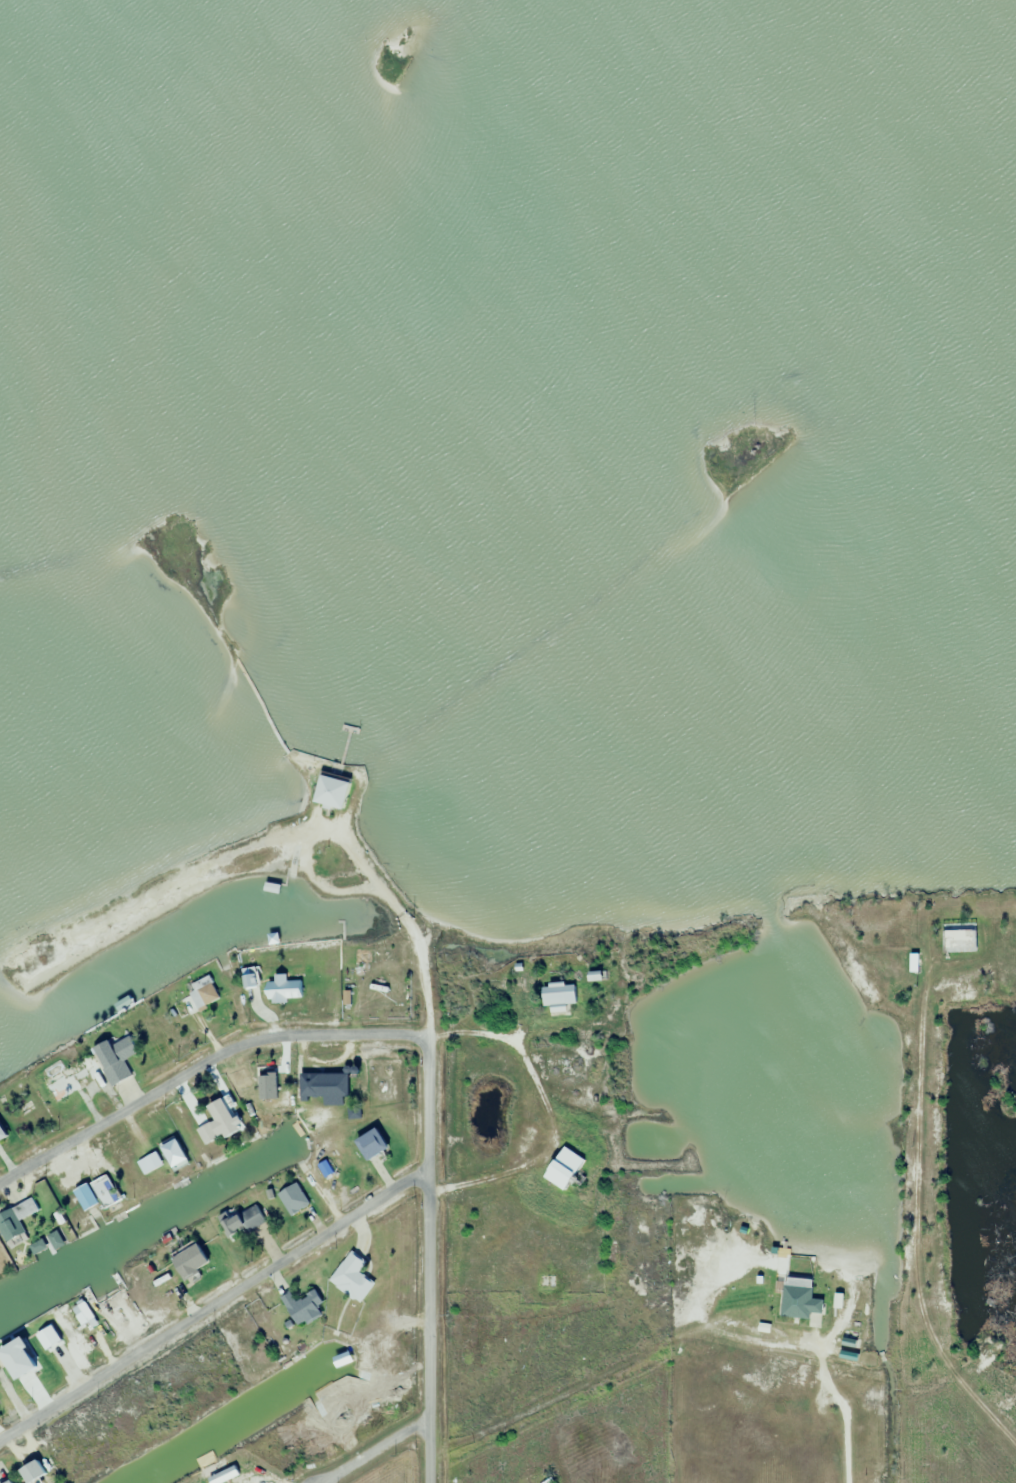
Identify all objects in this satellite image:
building: (330, 791)
road: (401, 921)
building: (956, 937)
building: (283, 988)
building: (557, 993)
building: (196, 998)
building: (114, 1058)
road: (199, 1060)
building: (72, 1080)
building: (323, 1087)
building: (274, 1099)
building: (221, 1116)
building: (2, 1132)
building: (206, 1133)
building: (369, 1143)
building: (171, 1150)
building: (148, 1163)
building: (326, 1168)
building: (563, 1168)
building: (104, 1192)
building: (292, 1198)
building: (15, 1219)
building: (241, 1220)
road: (425, 1258)
building: (188, 1261)
building: (351, 1277)
road: (212, 1300)
building: (797, 1301)
building: (302, 1307)
building: (82, 1312)
building: (16, 1356)
building: (31, 1471)
building: (7, 1481)

